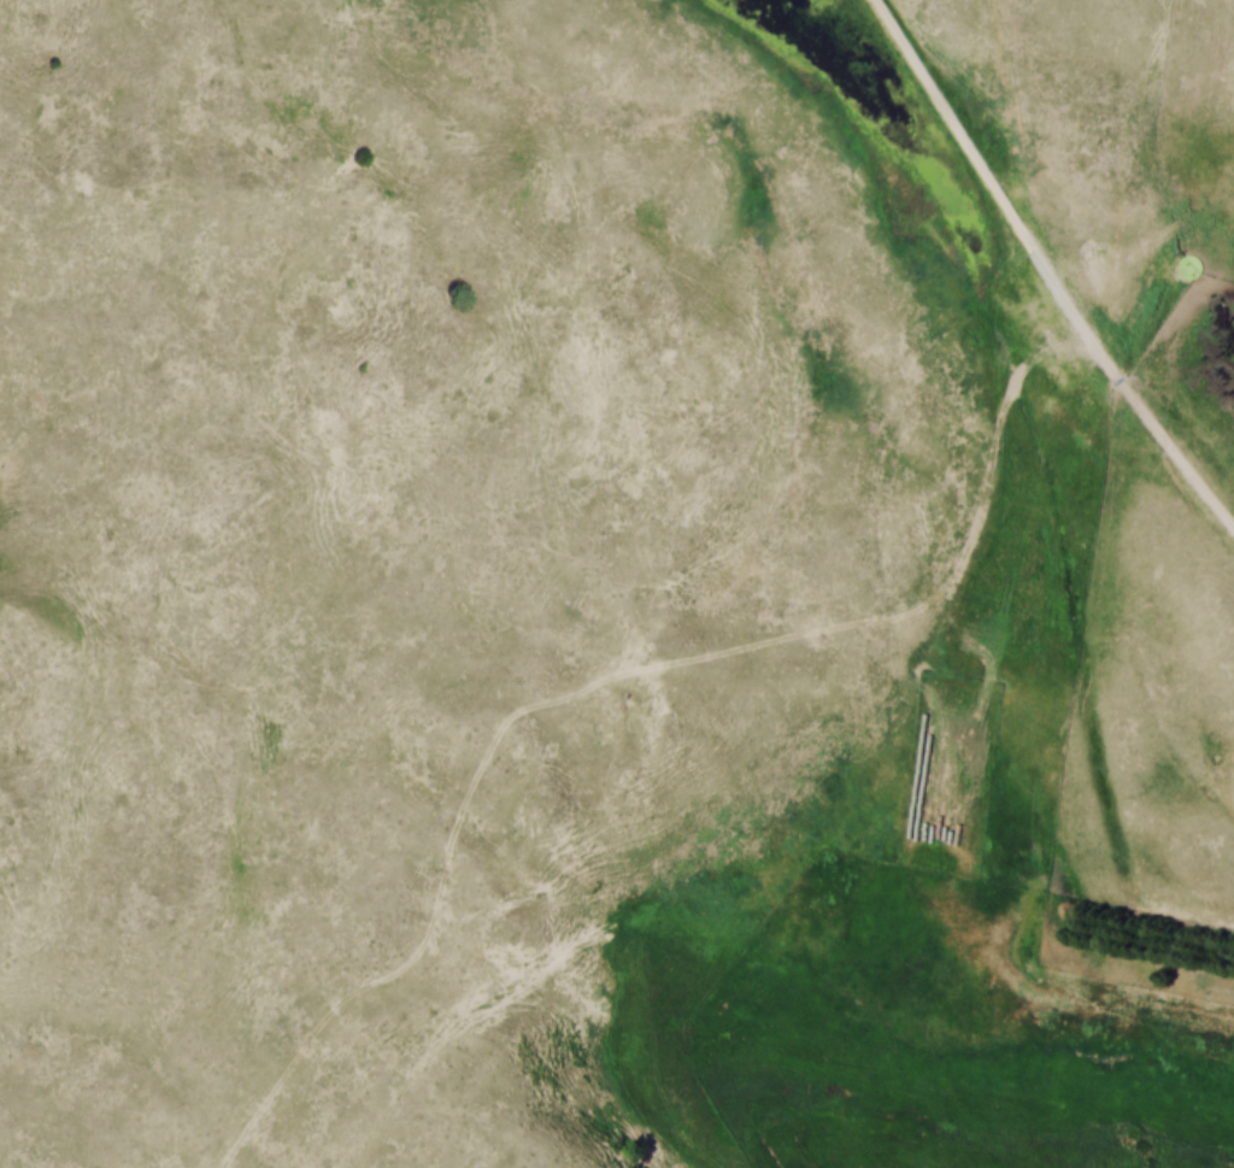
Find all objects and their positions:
road: (1054, 277)

